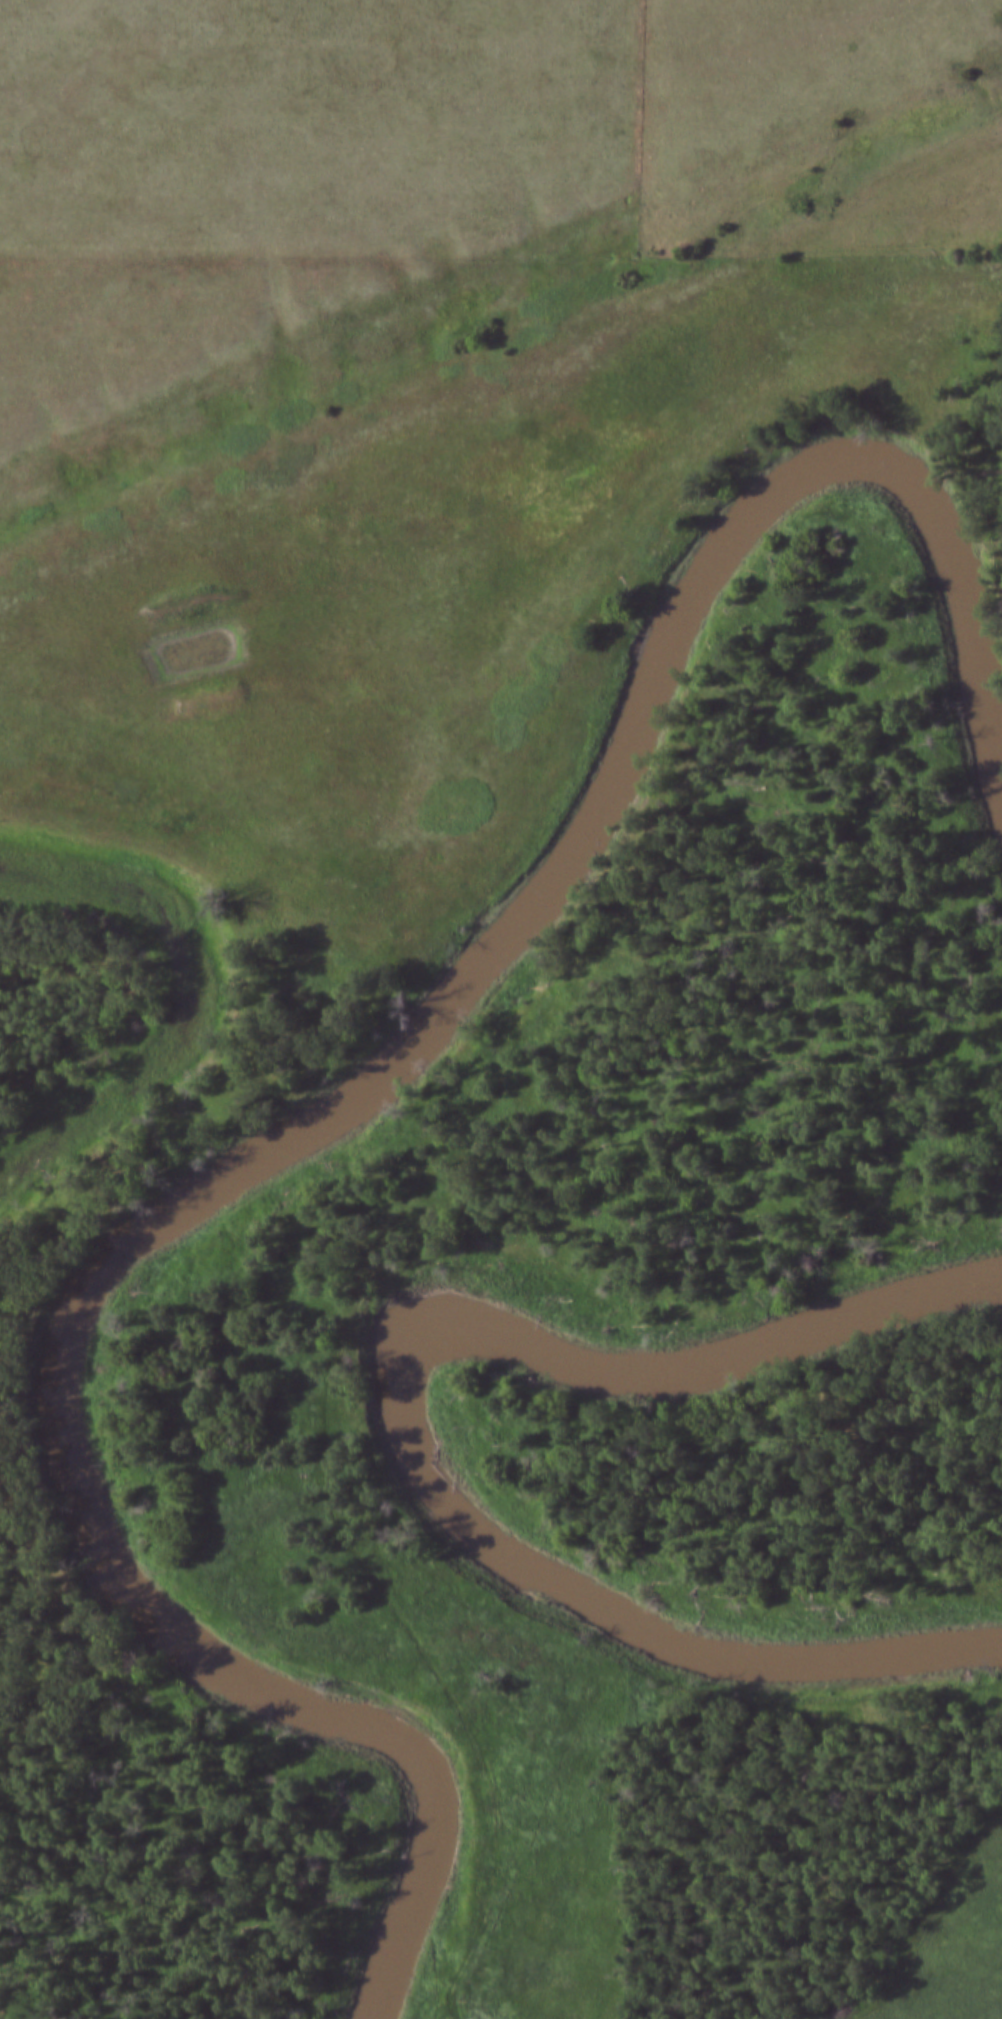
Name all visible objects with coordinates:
river: (350, 1094)
river: (404, 1414)

